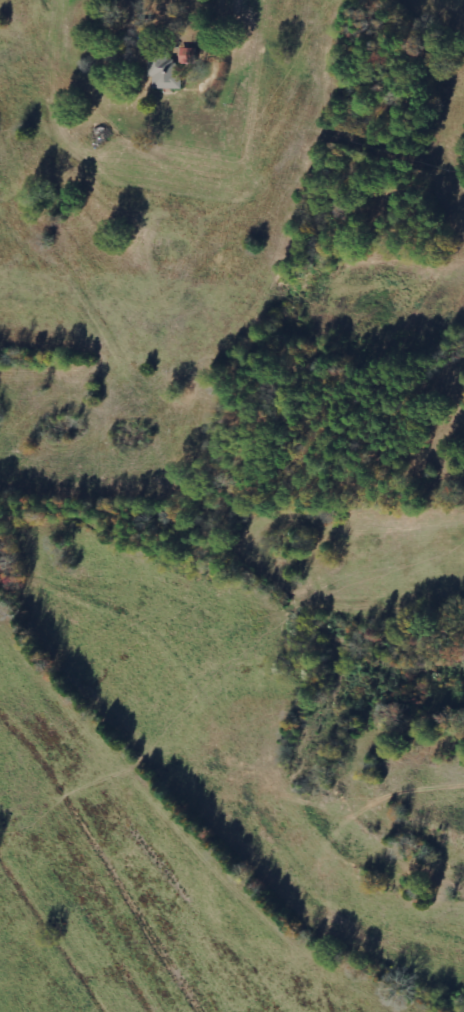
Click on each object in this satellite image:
building: (188, 55)
road: (161, 65)
building: (165, 72)

